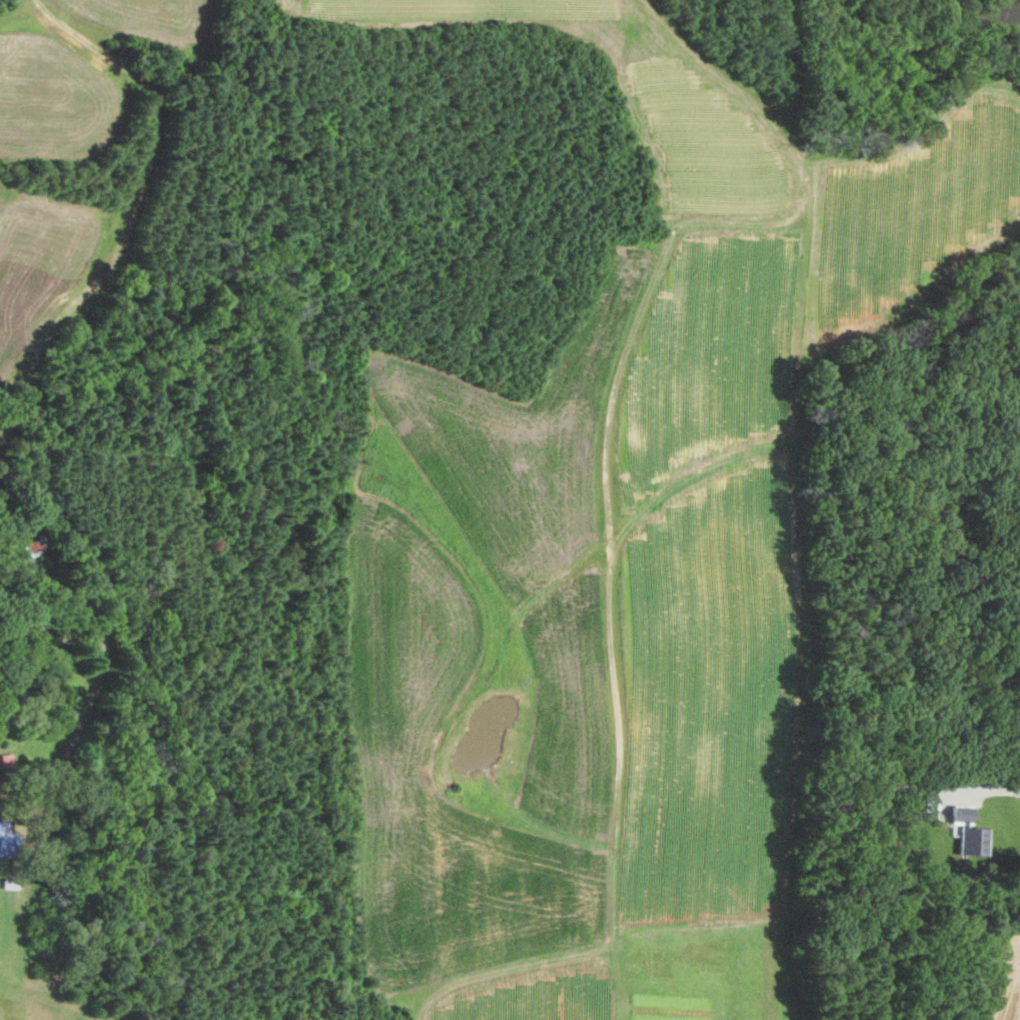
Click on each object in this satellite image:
road: (135, 210)
road: (602, 608)
road: (104, 665)
road: (983, 790)
building: (929, 802)
building: (6, 840)

